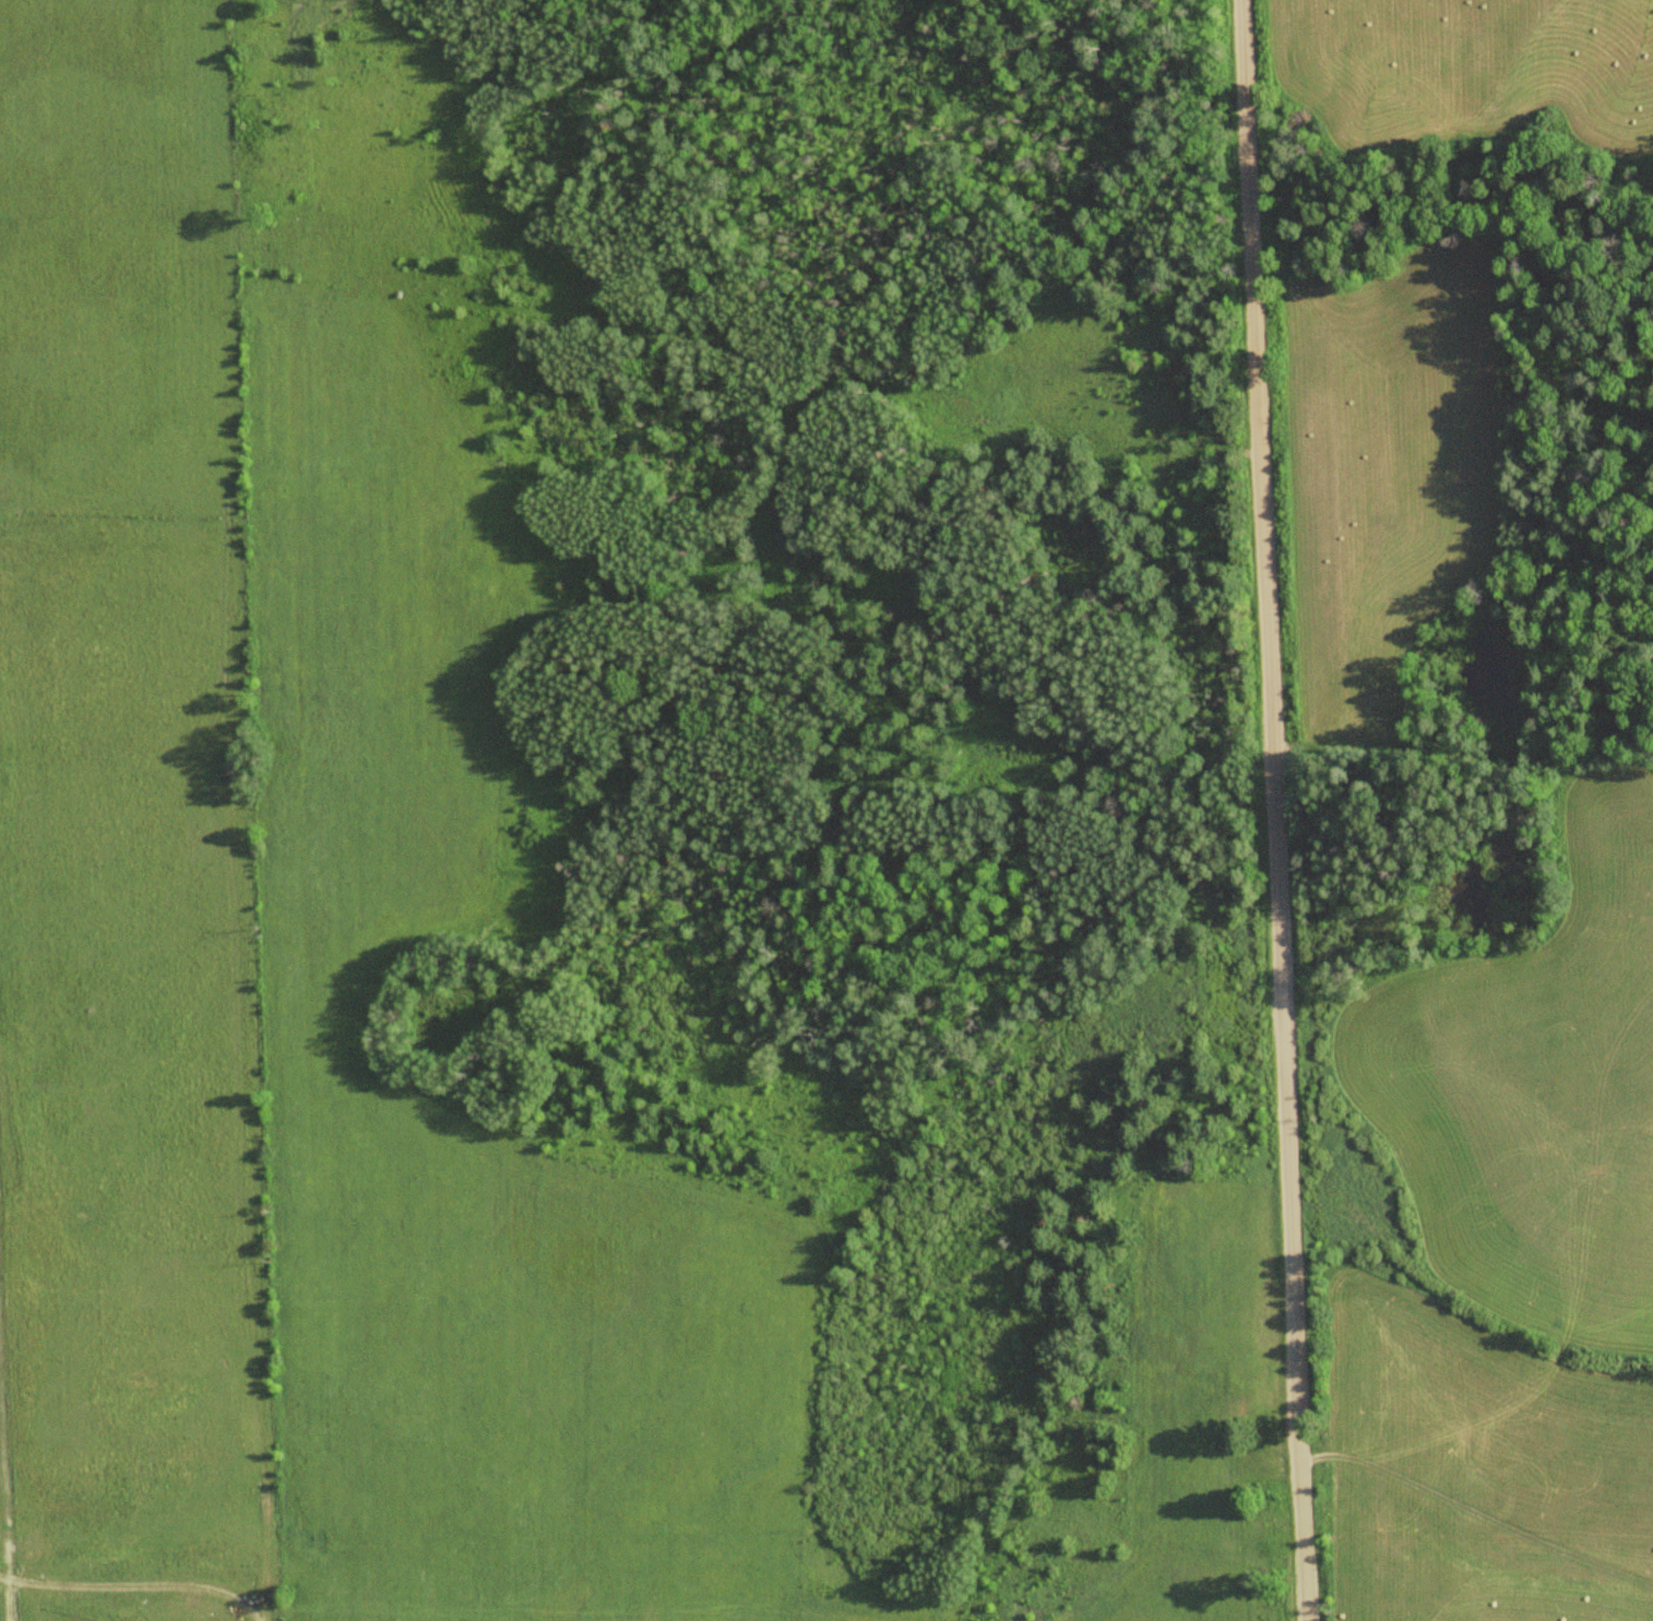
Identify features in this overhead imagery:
road: (1270, 810)

